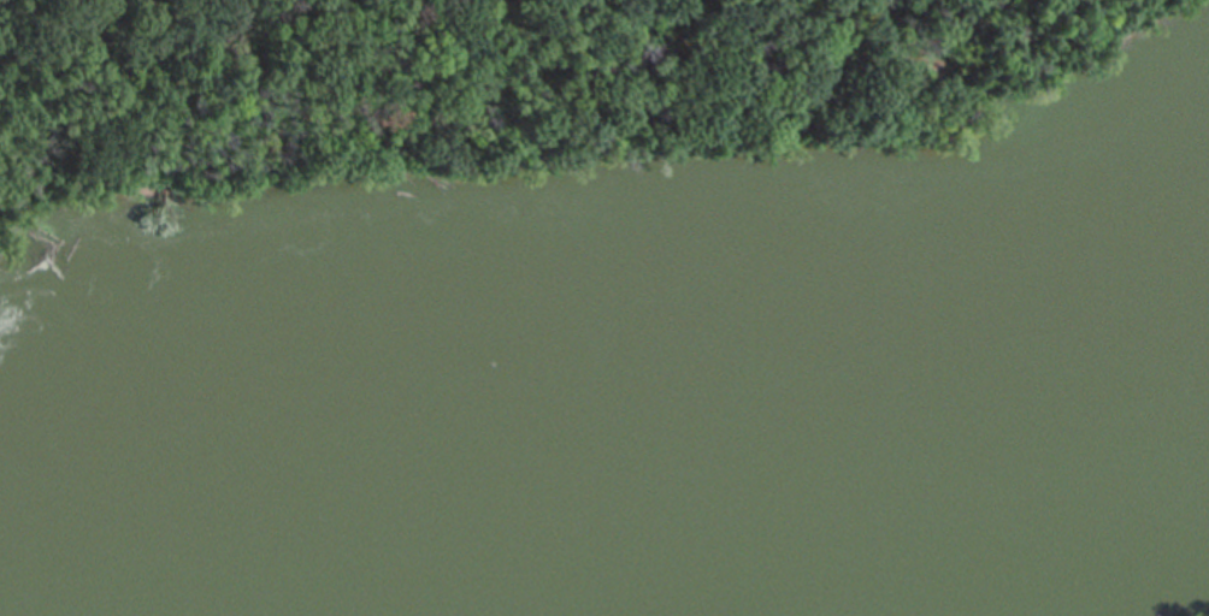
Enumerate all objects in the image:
river: (611, 431)

